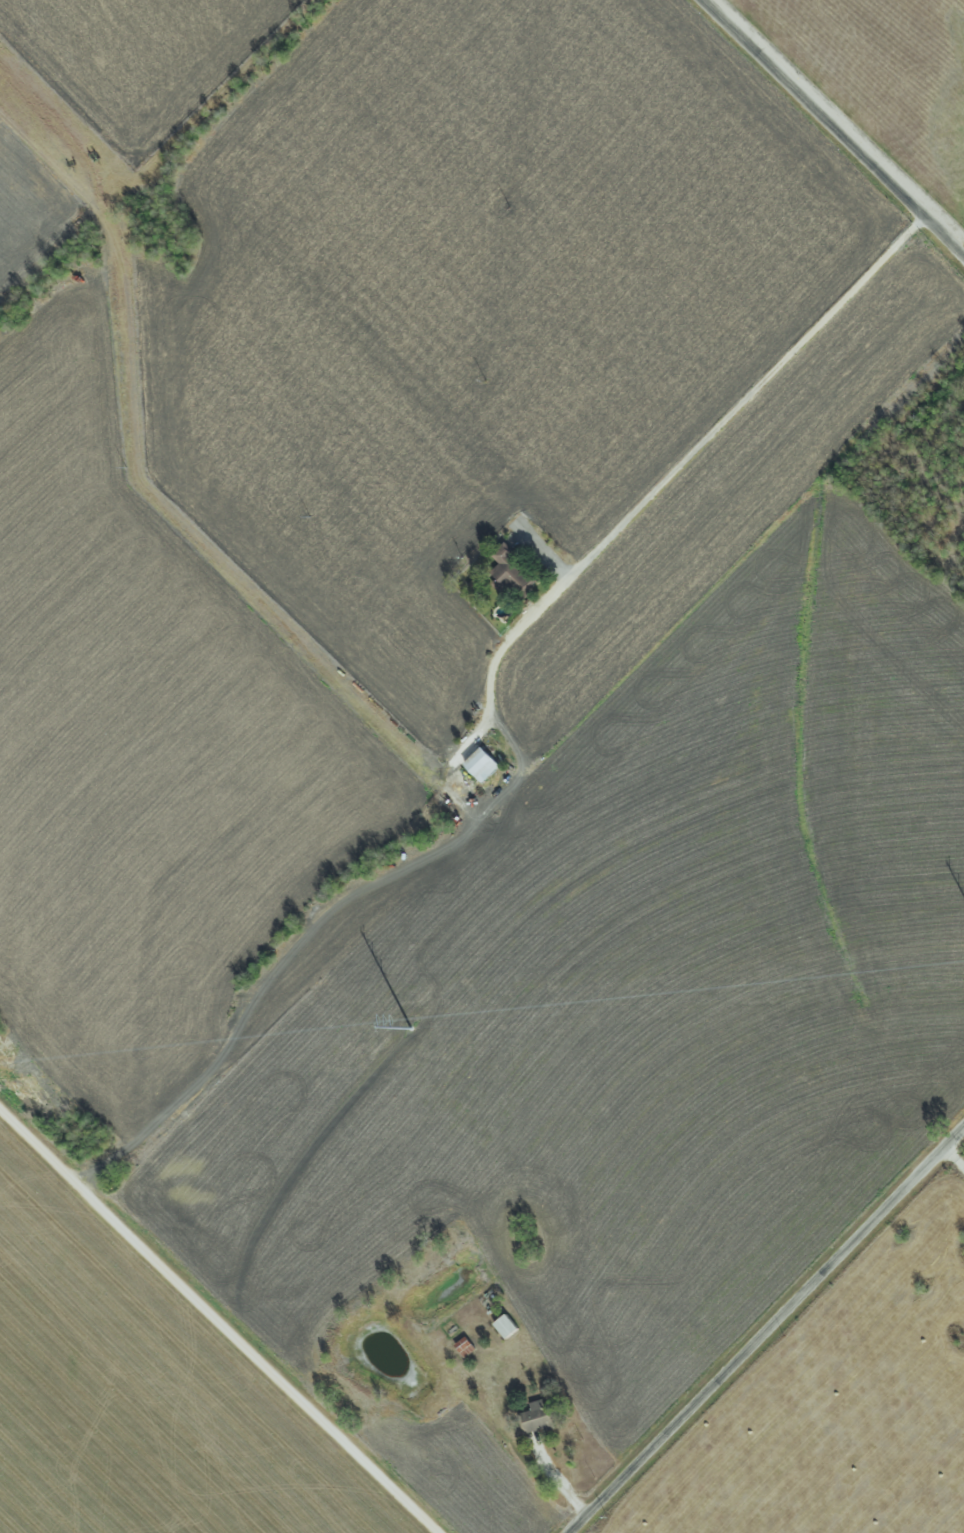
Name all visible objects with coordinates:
road: (832, 129)
road: (689, 457)
building: (509, 569)
building: (479, 764)
power tower: (402, 1037)
road: (955, 1155)
road: (218, 1322)
road: (767, 1330)
road: (560, 1478)

